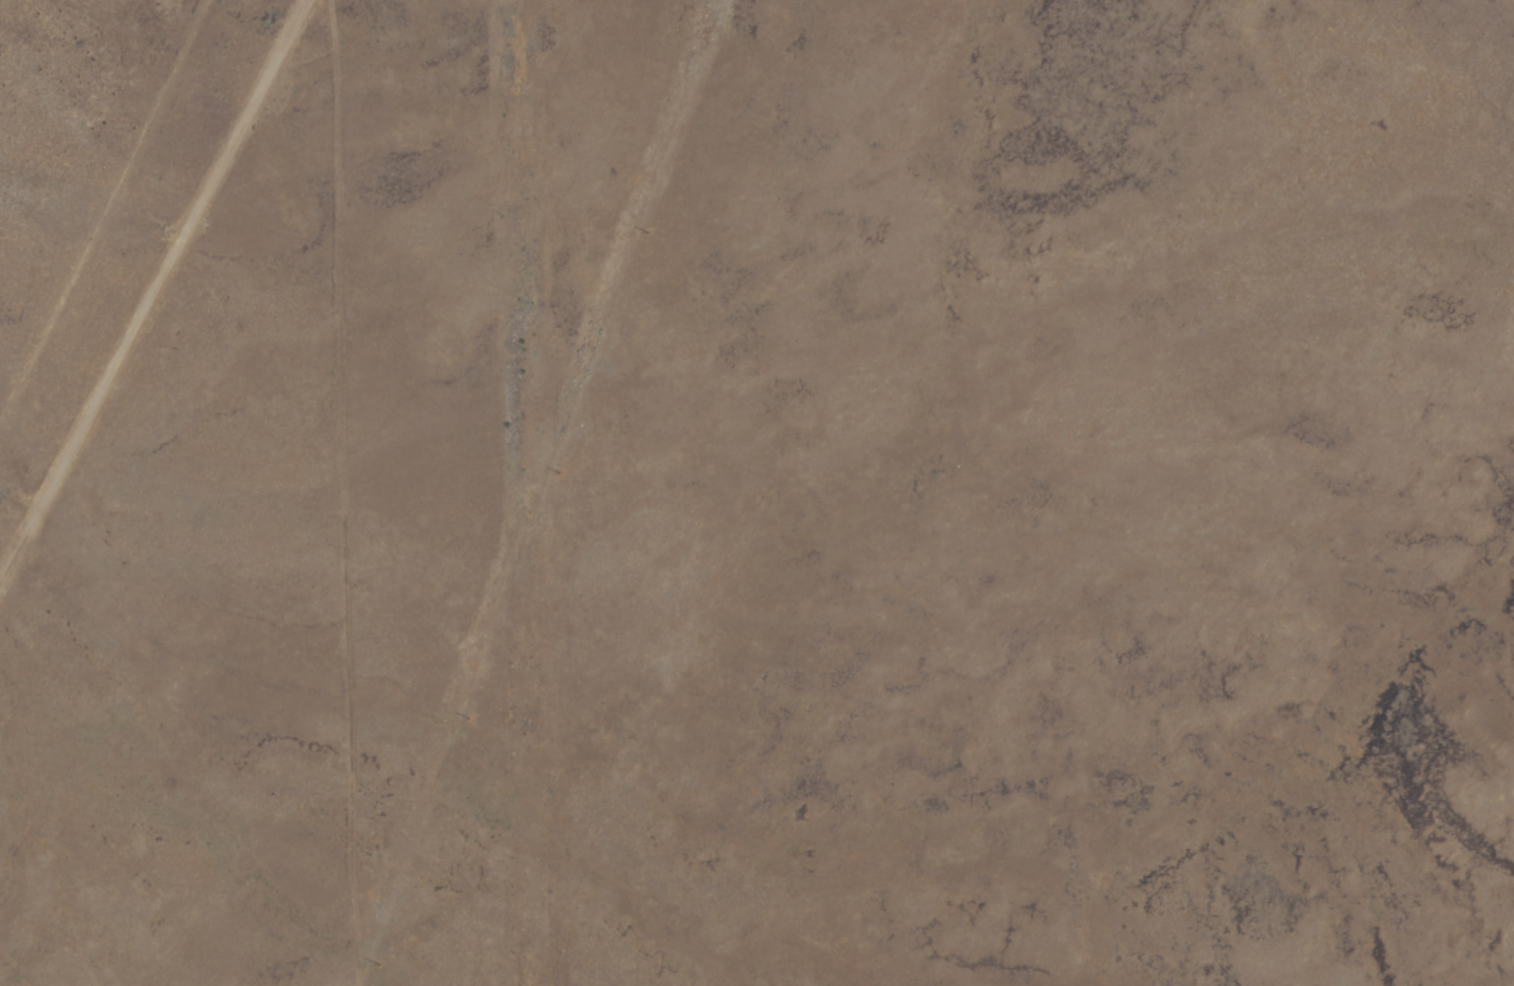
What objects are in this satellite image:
road: (155, 293)
road: (334, 493)

